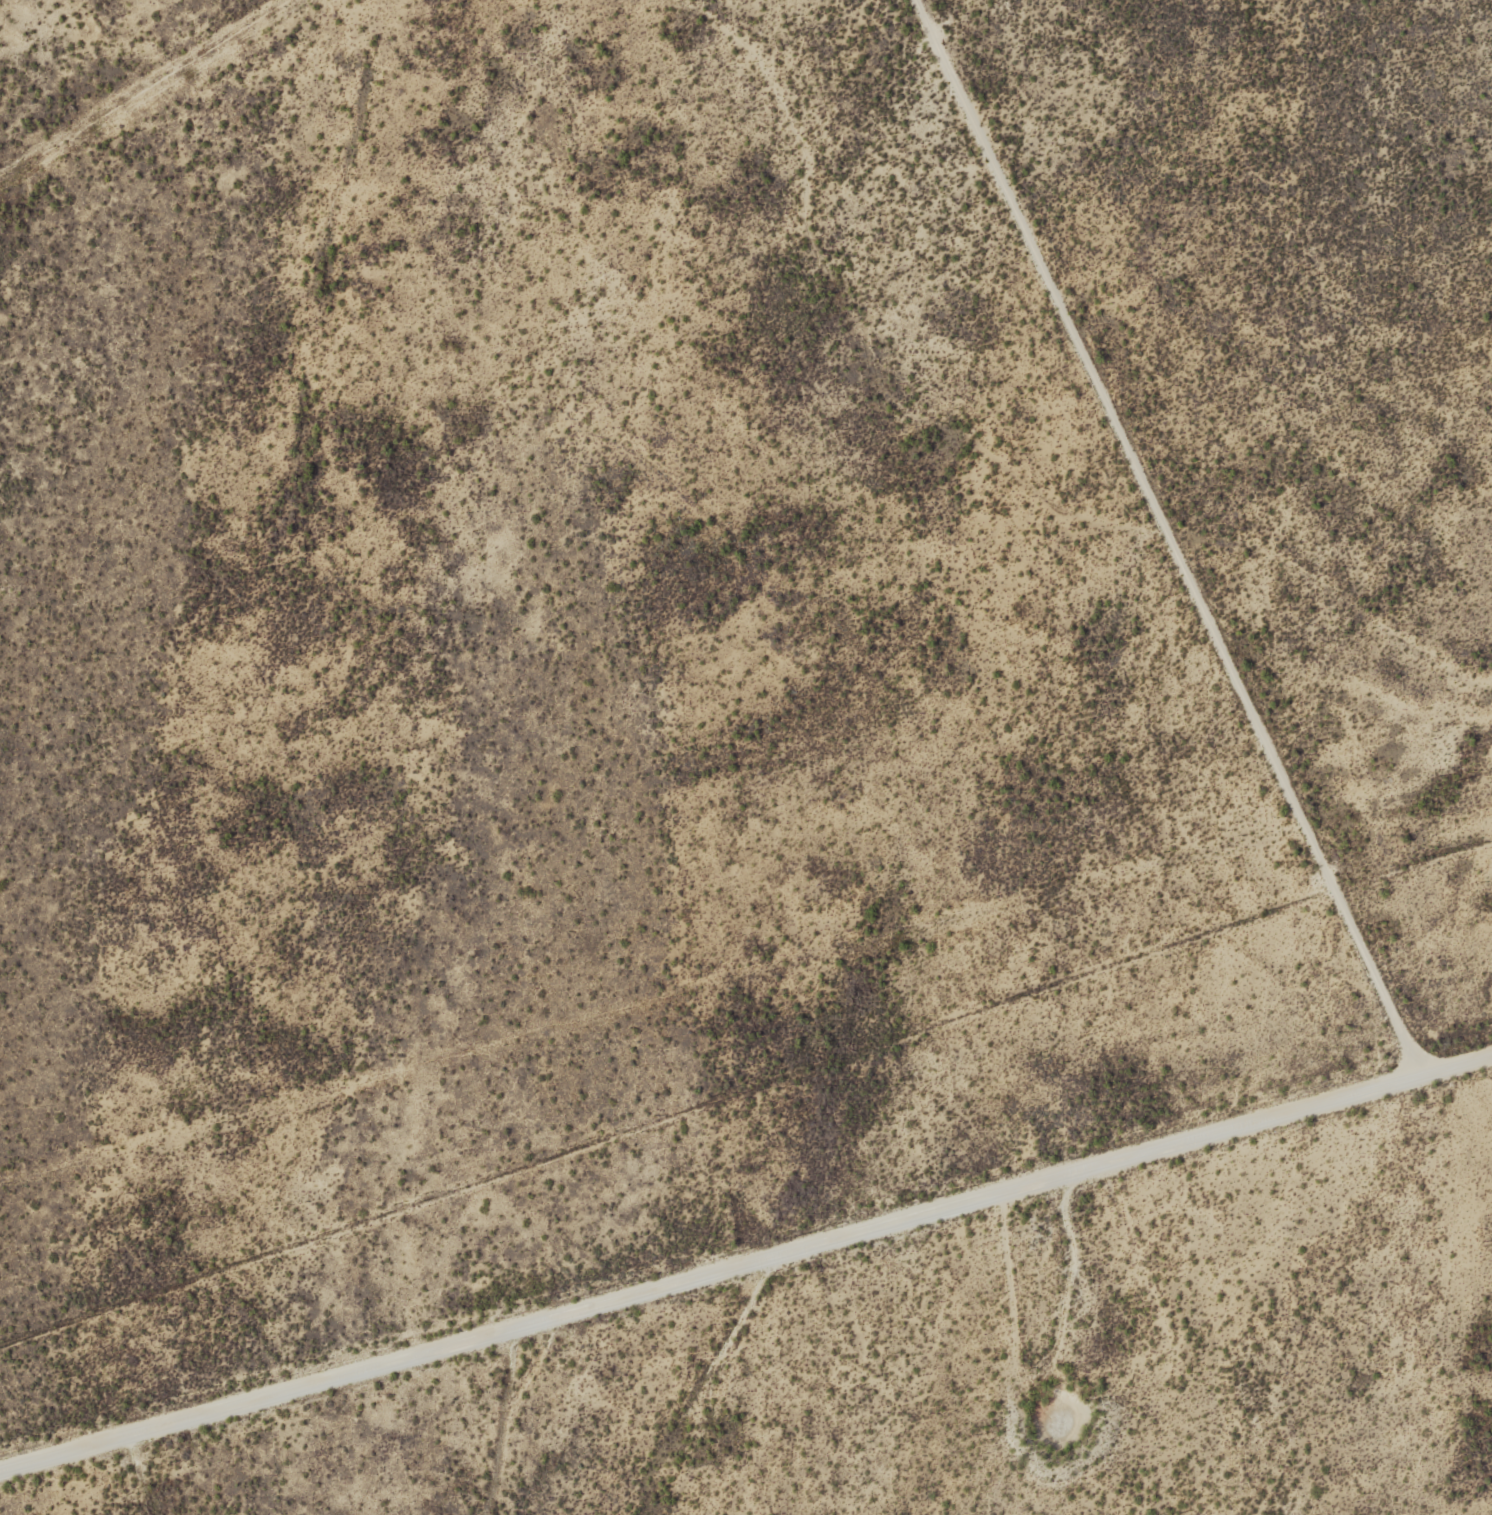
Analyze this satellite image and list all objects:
road: (746, 1271)

